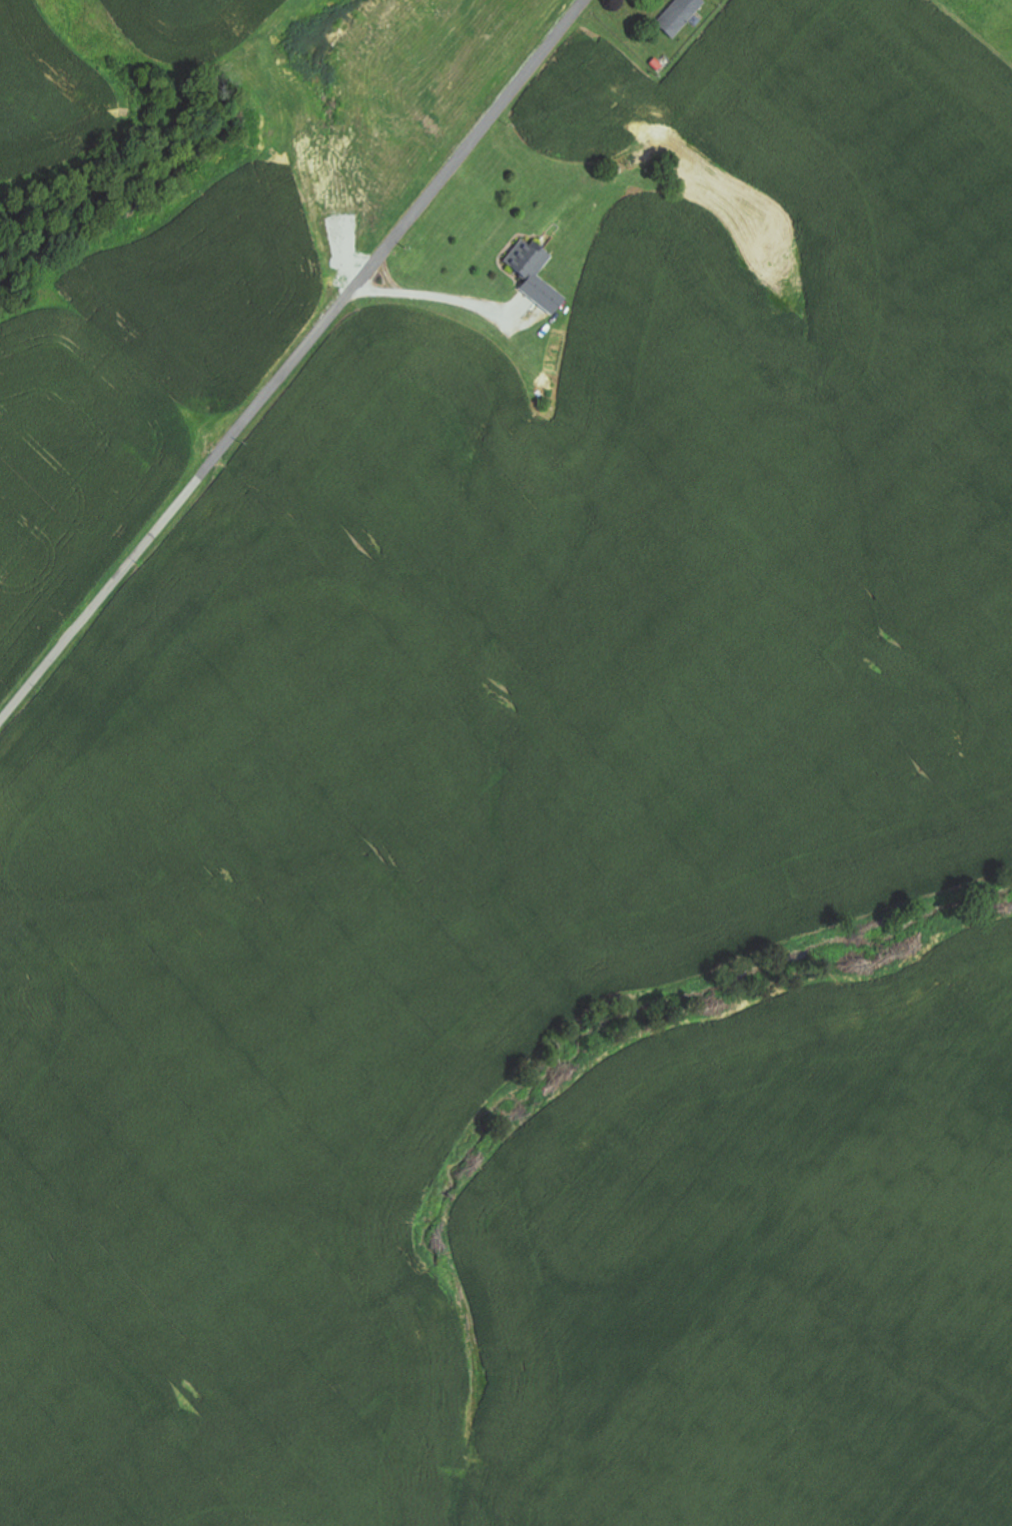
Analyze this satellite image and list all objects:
building: (683, 16)
building: (548, 295)
road: (295, 361)

